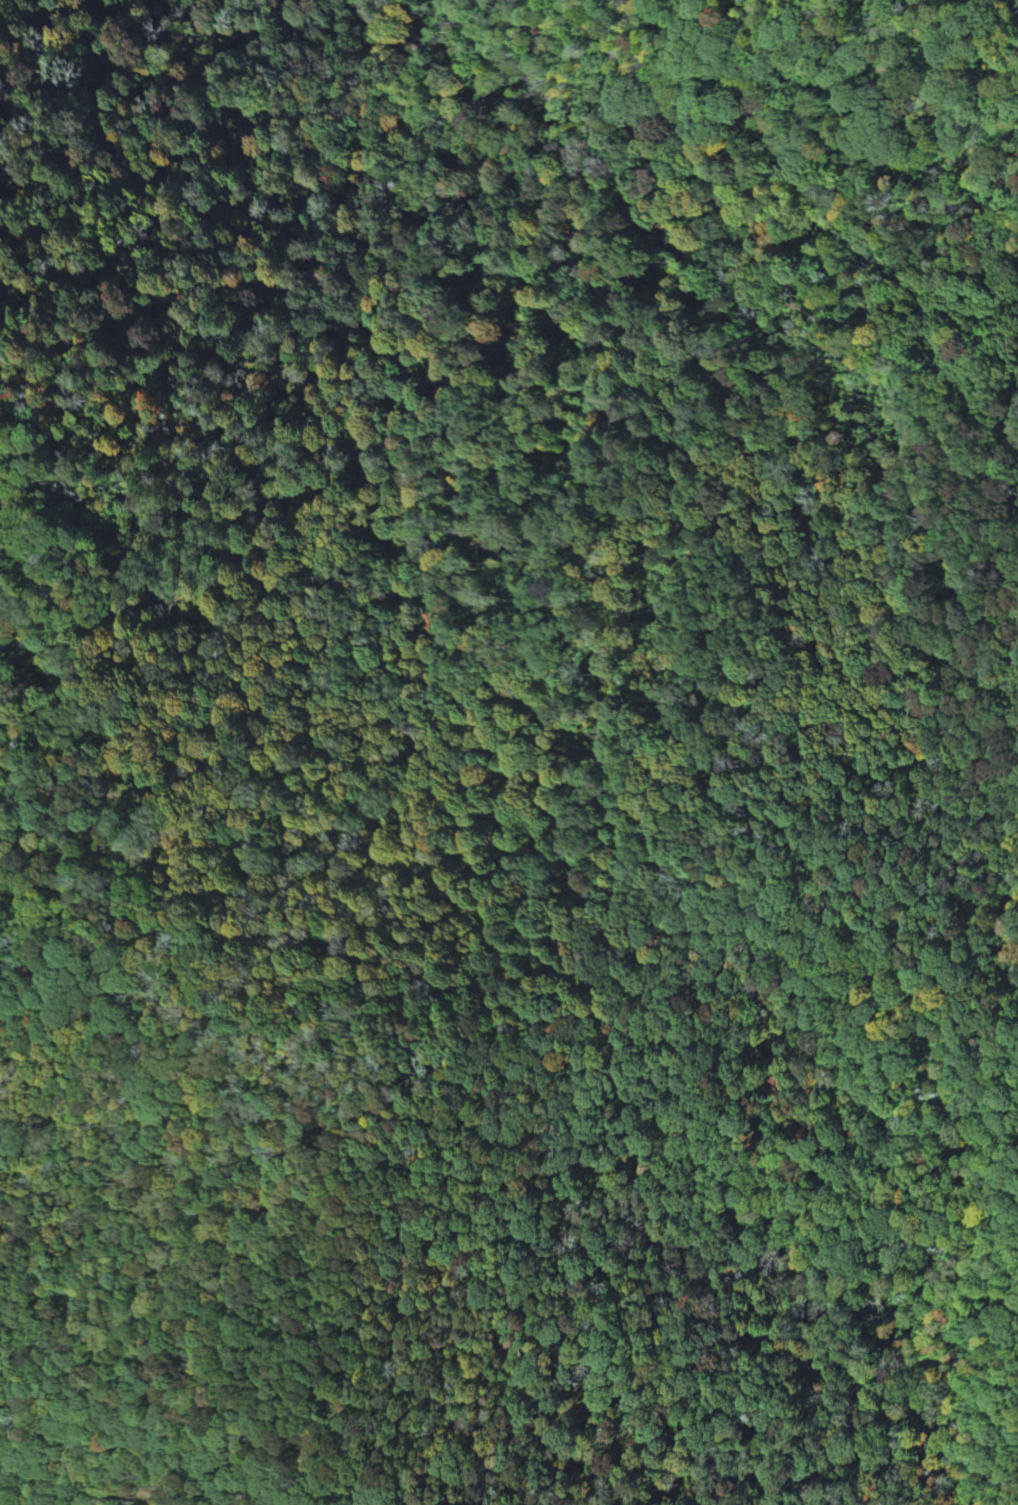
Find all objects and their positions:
road: (530, 890)

